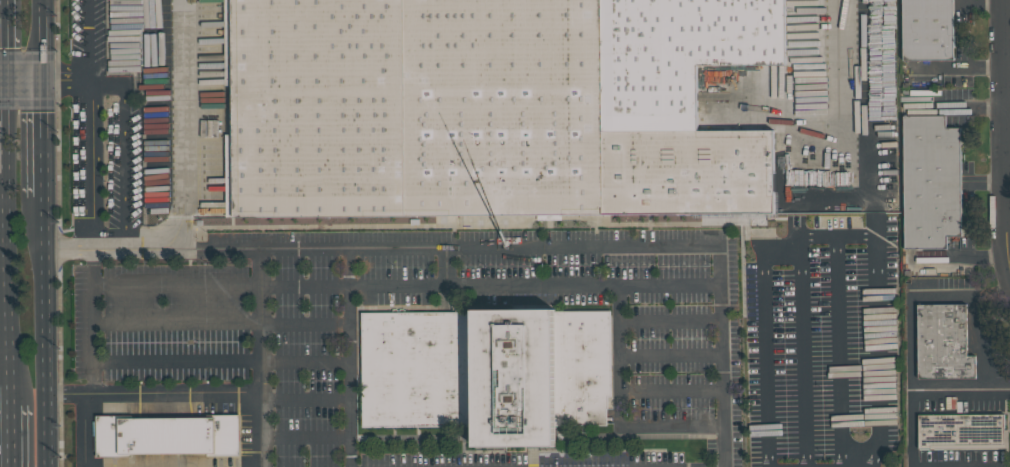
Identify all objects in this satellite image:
building: (927, 30)
road: (86, 42)
road: (11, 43)
road: (46, 43)
road: (86, 85)
traffic signals: (12, 86)
road: (23, 86)
traffic signals: (47, 86)
road: (1008, 88)
building: (493, 108)
road: (183, 123)
road: (836, 125)
road: (1008, 126)
road: (1006, 137)
road: (47, 140)
road: (87, 167)
road: (127, 167)
building: (930, 181)
road: (13, 234)
road: (823, 234)
road: (403, 246)
road: (257, 266)
road: (445, 266)
road: (350, 268)
road: (7, 284)
road: (173, 286)
road: (525, 287)
road: (912, 296)
road: (89, 322)
road: (48, 331)
building: (943, 342)
road: (350, 344)
road: (835, 350)
road: (802, 352)
building: (486, 371)
road: (210, 393)
road: (923, 393)
road: (15, 397)
road: (620, 405)
road: (87, 411)
building: (961, 431)
building: (168, 435)
road: (13, 439)

